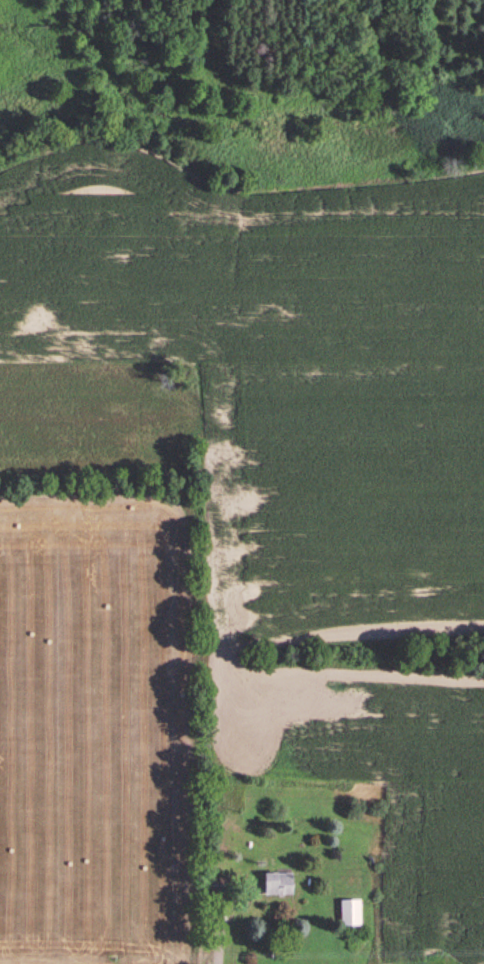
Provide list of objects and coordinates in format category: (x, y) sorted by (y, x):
crop: (265, 371)
crop: (89, 731)
crop: (381, 773)
building: (280, 884)
building: (351, 913)
road: (218, 930)

